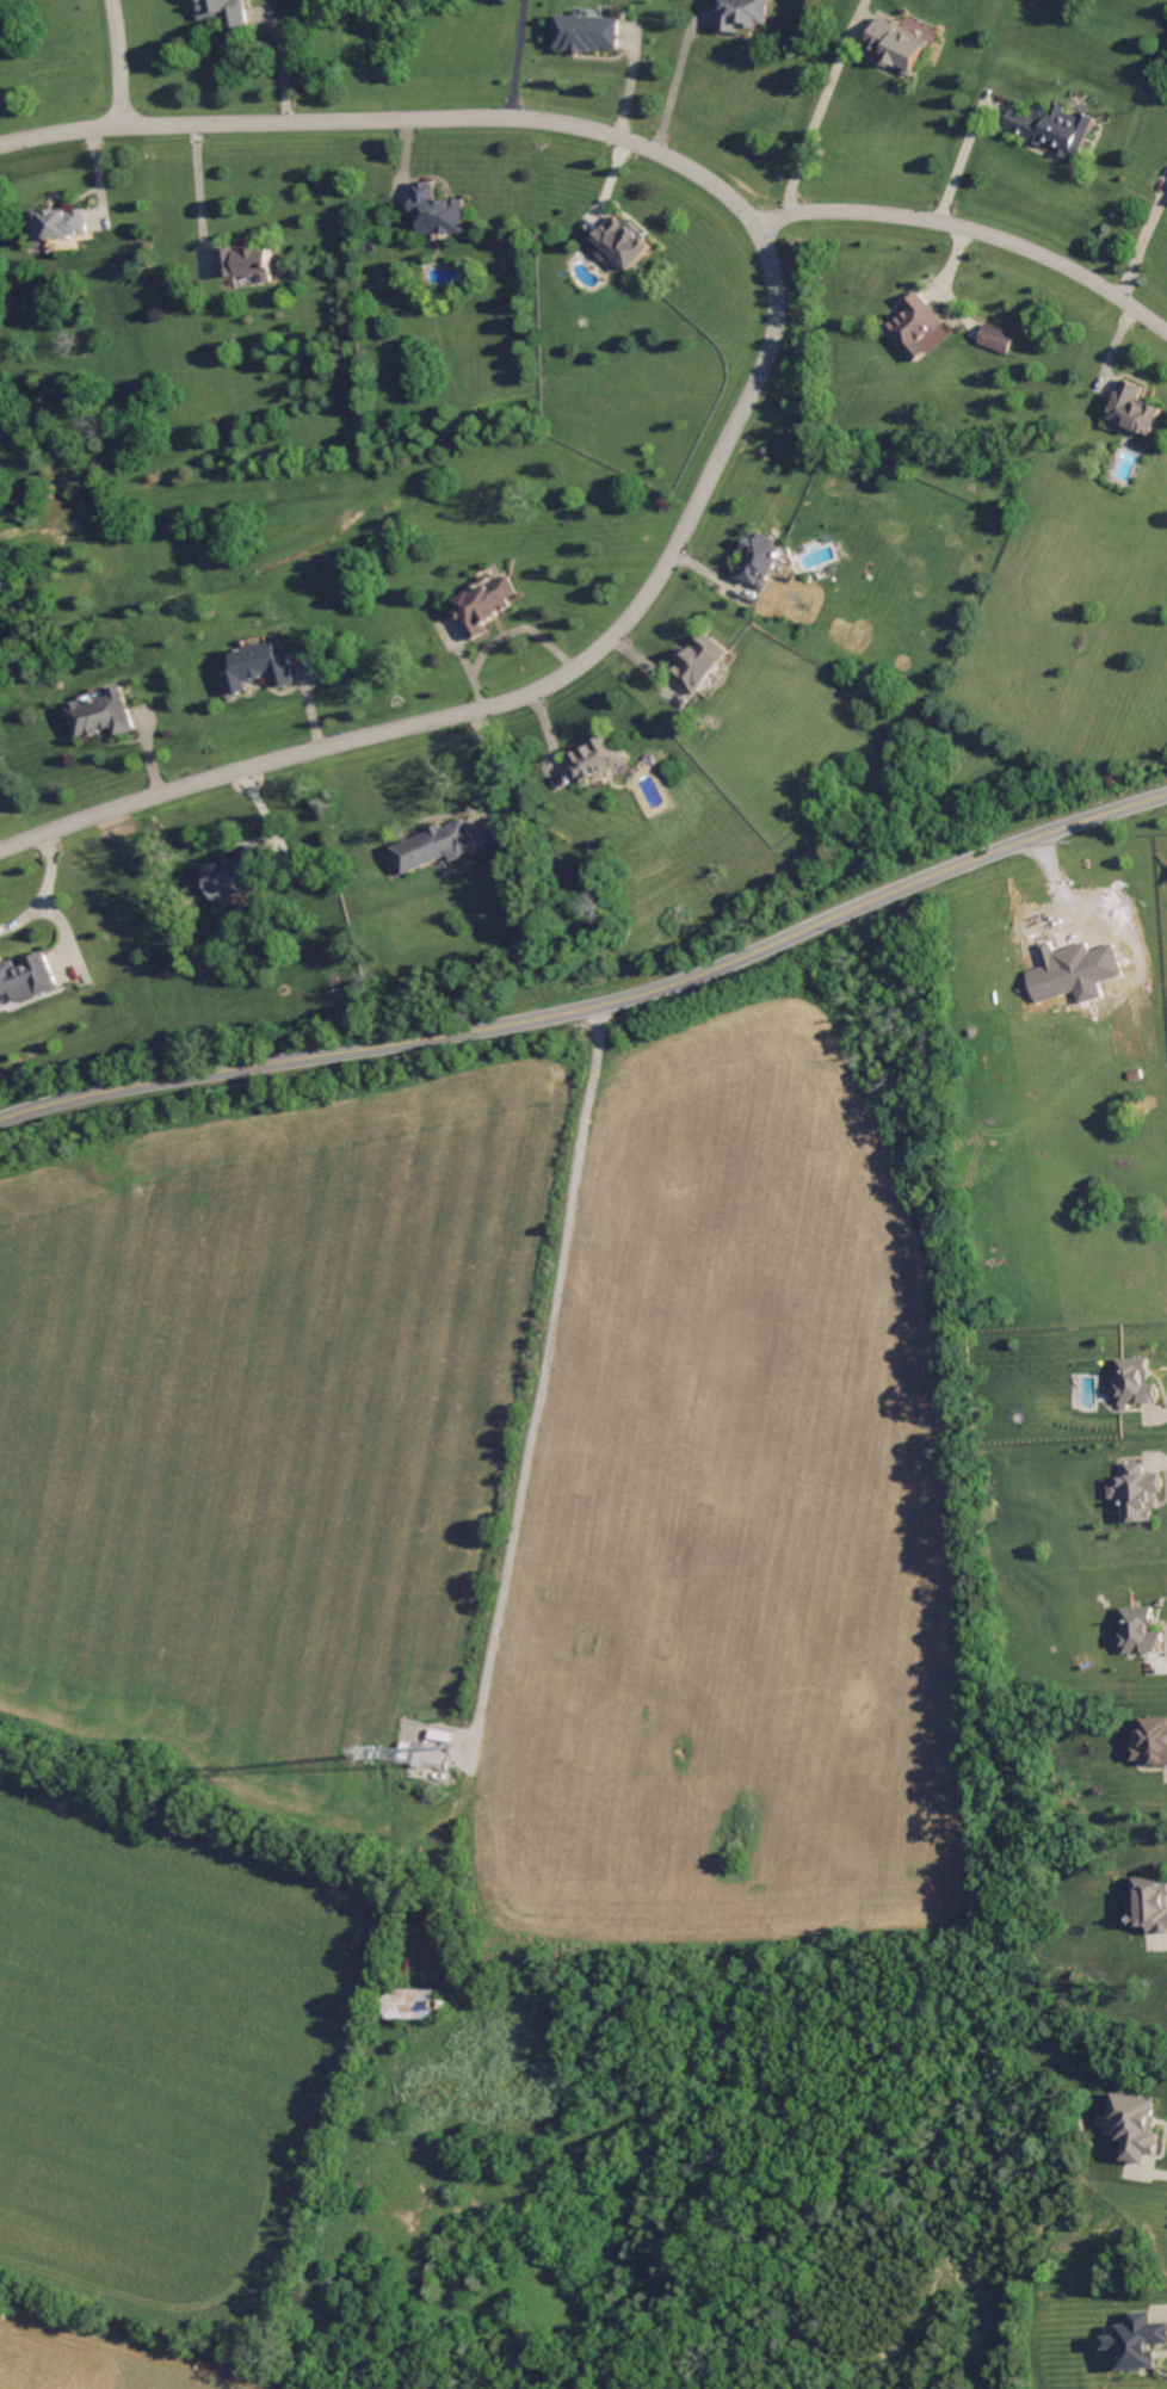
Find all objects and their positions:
building: (224, 11)
building: (745, 13)
building: (588, 32)
building: (899, 47)
road: (519, 58)
road: (119, 61)
road: (674, 84)
road: (821, 110)
building: (1054, 126)
road: (957, 159)
road: (193, 190)
building: (440, 210)
building: (58, 223)
road: (969, 226)
road: (1141, 233)
building: (623, 242)
building: (245, 260)
building: (918, 328)
building: (996, 339)
road: (757, 381)
building: (1134, 408)
building: (761, 560)
building: (486, 606)
road: (498, 637)
building: (703, 662)
building: (259, 667)
building: (105, 714)
building: (595, 758)
building: (437, 846)
building: (236, 874)
road: (42, 891)
building: (1063, 976)
building: (25, 977)
road: (595, 1004)
road: (541, 1377)
building: (1136, 1383)
road: (1150, 1412)
building: (1138, 1490)
building: (1141, 1630)
building: (1151, 1741)
building: (434, 1755)
building: (1149, 1903)
building: (413, 2004)
building: (1134, 2124)
building: (1137, 2340)

